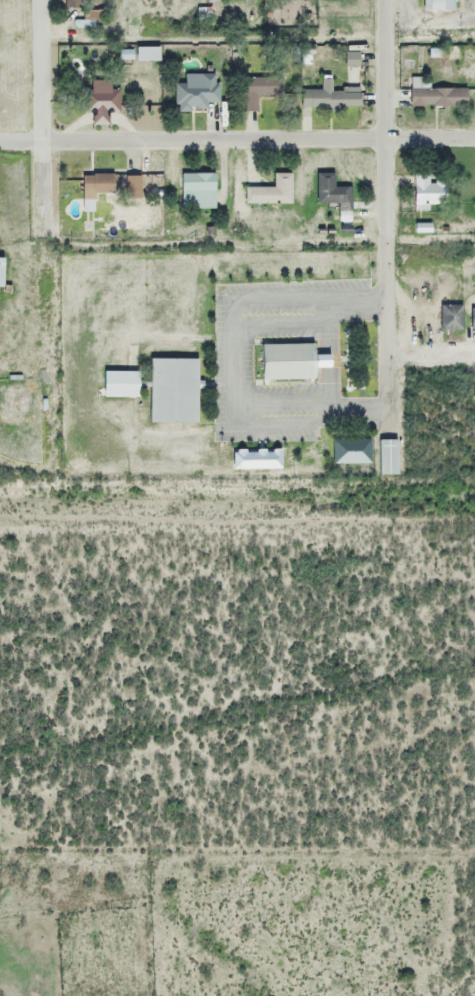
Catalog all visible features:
building: (72, 4)
building: (437, 5)
building: (259, 90)
building: (195, 93)
building: (435, 96)
building: (328, 97)
building: (101, 103)
road: (39, 112)
road: (237, 138)
building: (94, 184)
building: (130, 186)
building: (196, 190)
building: (270, 192)
building: (331, 192)
building: (426, 192)
road: (385, 218)
building: (0, 272)
building: (449, 318)
building: (471, 319)
road: (431, 355)
building: (283, 361)
building: (118, 384)
building: (169, 392)
building: (350, 451)
building: (386, 457)

